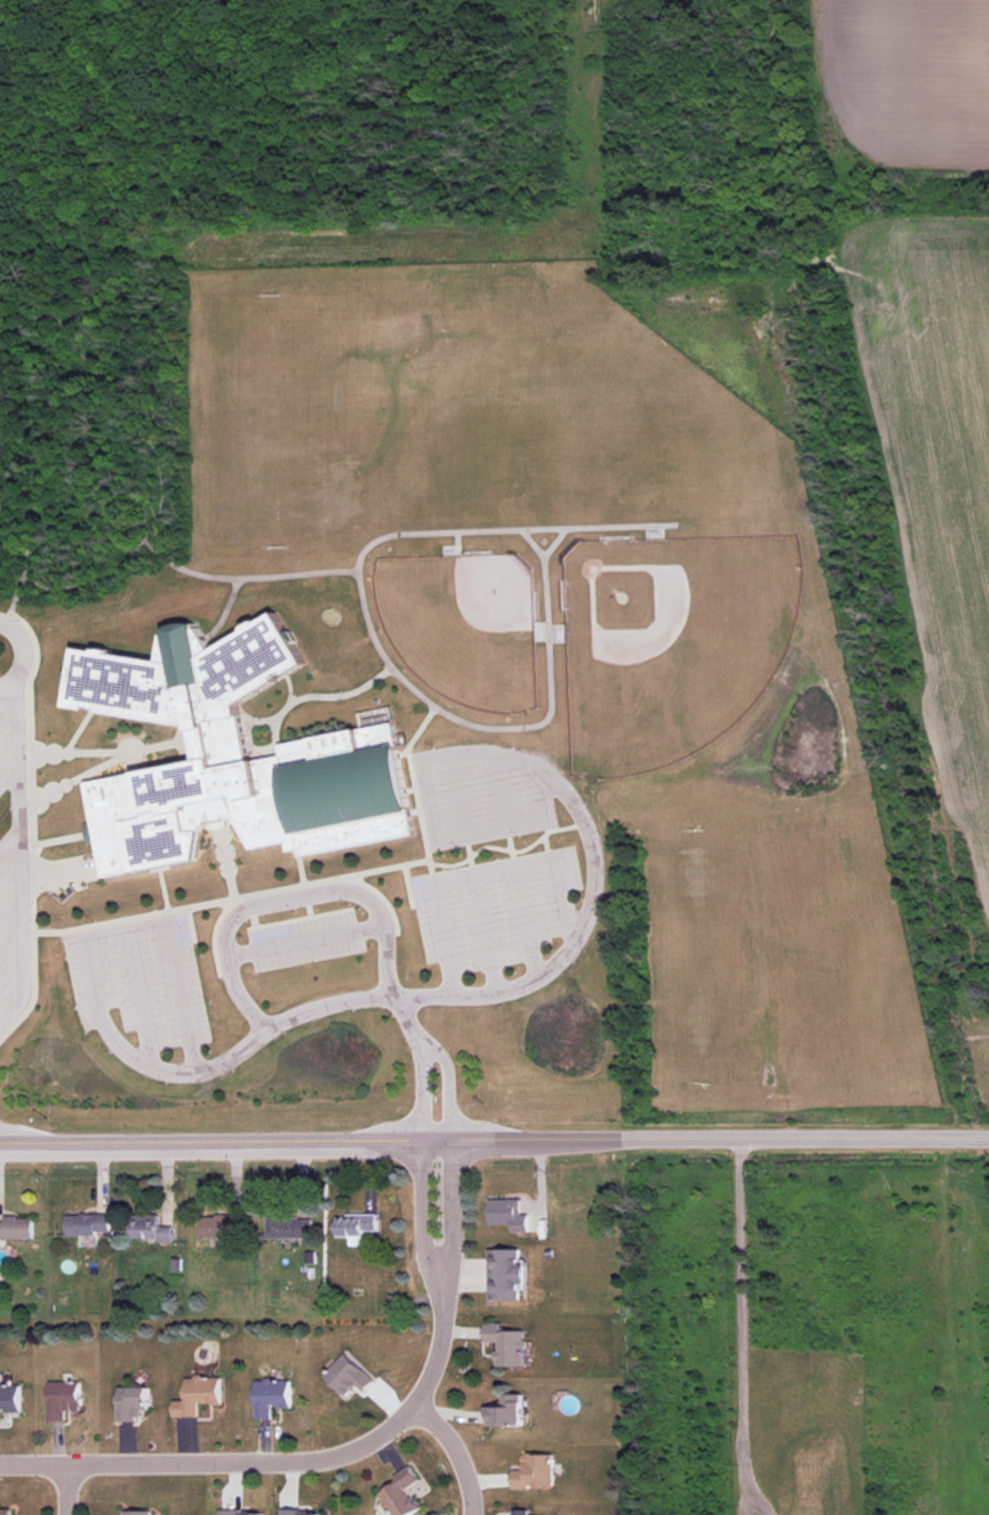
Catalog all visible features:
building: (224, 755)
road: (598, 871)
road: (287, 895)
road: (213, 1066)
road: (449, 1095)
road: (421, 1099)
road: (494, 1142)
road: (421, 1202)
road: (448, 1202)
building: (507, 1214)
building: (86, 1224)
building: (355, 1224)
building: (221, 1226)
building: (16, 1227)
building: (289, 1227)
building: (150, 1228)
building: (504, 1274)
road: (740, 1332)
building: (506, 1344)
building: (348, 1375)
building: (197, 1395)
building: (271, 1396)
building: (9, 1397)
building: (62, 1398)
building: (132, 1402)
building: (507, 1410)
road: (456, 1450)
road: (287, 1462)
building: (534, 1471)
road: (64, 1489)
building: (401, 1493)
road: (746, 1499)
building: (5, 1511)
building: (137, 1512)
building: (235, 1512)
building: (300, 1512)
building: (520, 1512)

